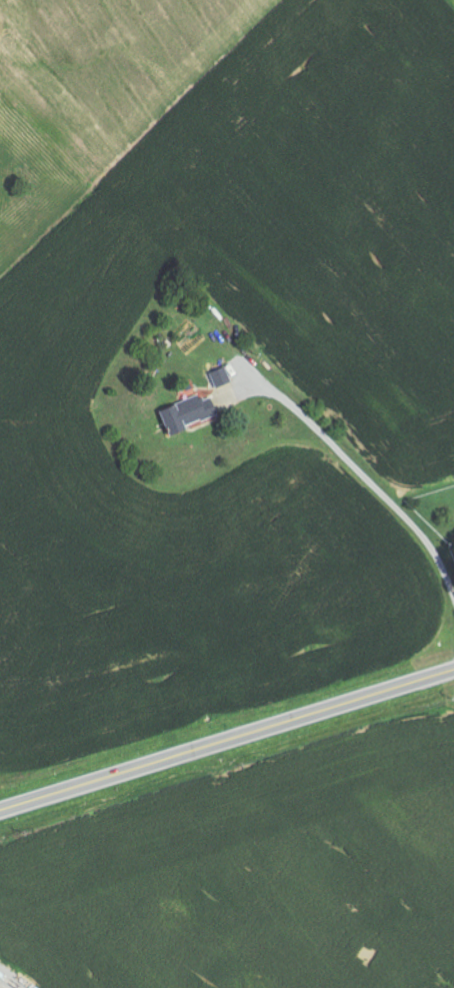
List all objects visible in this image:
building: (221, 377)
building: (189, 413)
road: (227, 739)

